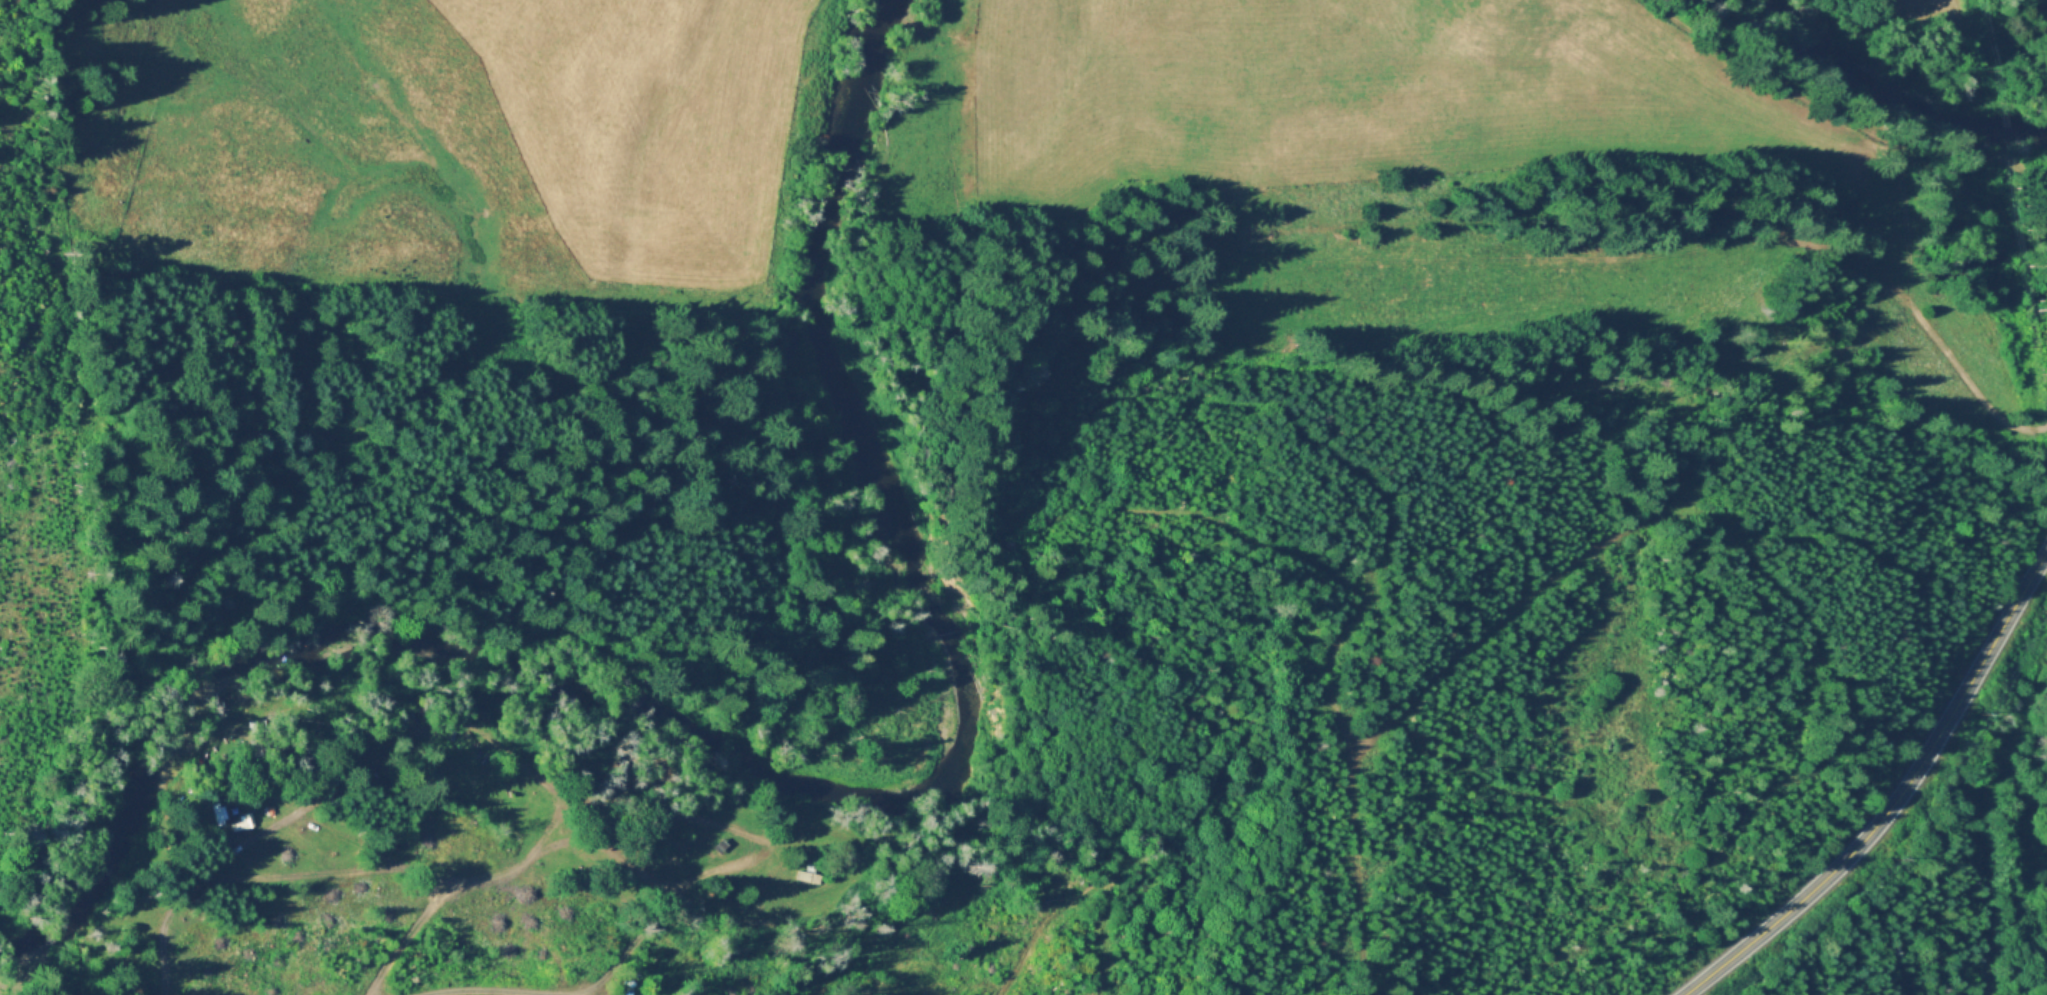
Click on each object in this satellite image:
river: (1898, 91)
road: (1462, 651)
road: (1333, 668)
river: (799, 762)
road: (861, 782)
road: (327, 791)
road: (1898, 803)
road: (1981, 809)
road: (1079, 894)
road: (793, 937)

